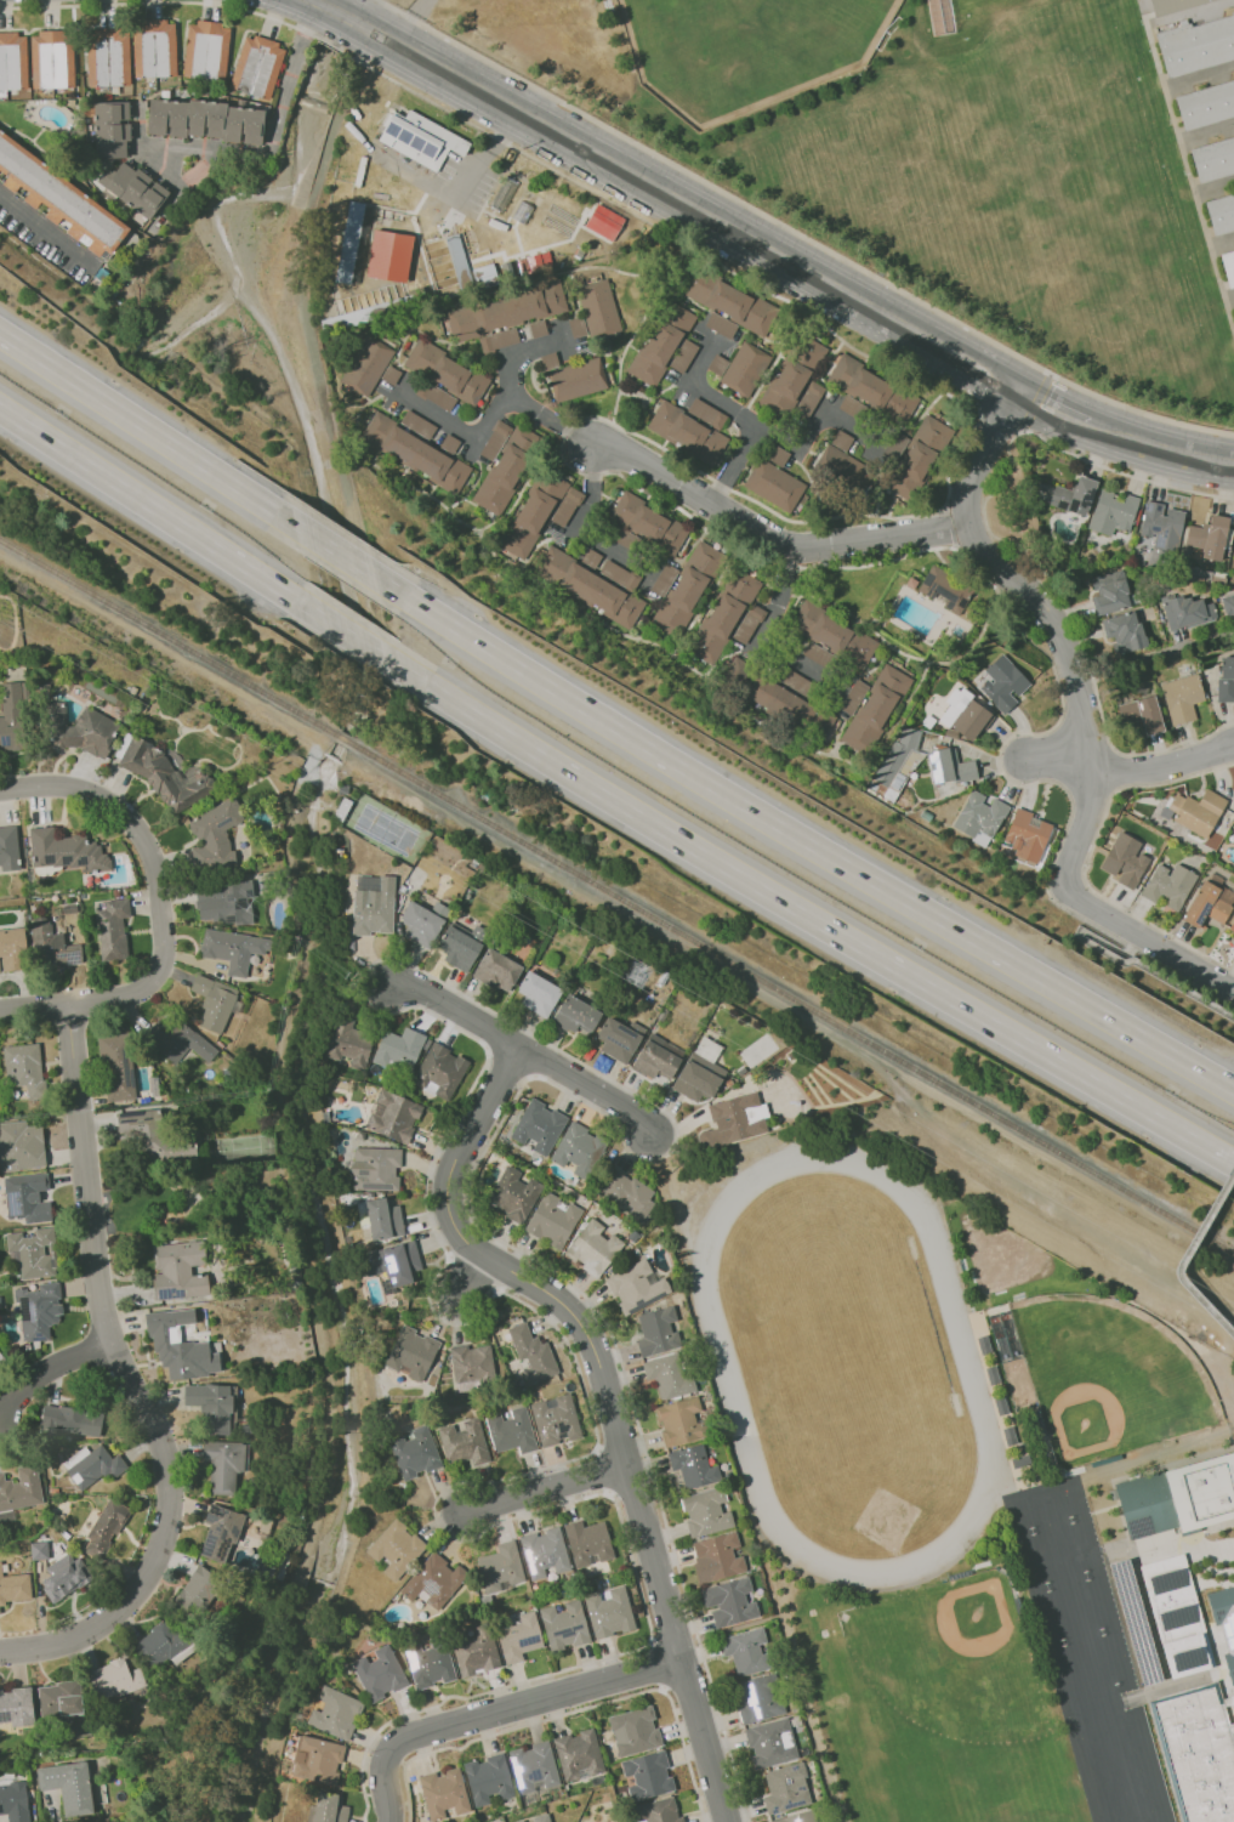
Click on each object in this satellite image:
road: (161, 0)
road: (323, 5)
building: (1175, 6)
road: (416, 8)
road: (346, 17)
road: (1192, 18)
road: (330, 44)
park: (745, 46)
building: (1196, 46)
building: (155, 49)
building: (207, 51)
building: (109, 58)
building: (53, 59)
building: (13, 62)
building: (258, 67)
park: (1014, 74)
road: (1200, 80)
building: (70, 102)
building: (1206, 106)
building: (206, 121)
building: (110, 131)
road: (1207, 136)
building: (420, 138)
road: (269, 140)
building: (351, 144)
road: (150, 154)
building: (508, 155)
building: (1213, 160)
road: (1187, 165)
building: (370, 168)
building: (365, 183)
road: (190, 187)
building: (133, 189)
road: (1215, 192)
building: (501, 195)
building: (59, 198)
building: (386, 200)
building: (568, 203)
road: (686, 208)
building: (1222, 214)
building: (558, 218)
building: (602, 222)
road: (46, 228)
road: (798, 233)
building: (351, 242)
building: (519, 245)
road: (1222, 245)
building: (460, 266)
building: (1229, 267)
building: (510, 271)
building: (101, 274)
building: (487, 277)
building: (728, 300)
road: (1229, 301)
building: (1233, 303)
building: (599, 308)
building: (376, 312)
building: (506, 312)
building: (722, 325)
building: (578, 328)
building: (539, 329)
building: (499, 340)
building: (661, 345)
building: (684, 357)
building: (550, 362)
building: (718, 365)
building: (368, 367)
building: (745, 369)
building: (448, 371)
building: (392, 375)
building: (792, 378)
building: (578, 380)
building: (874, 390)
building: (434, 395)
road: (705, 396)
building: (809, 401)
road: (1035, 403)
road: (1051, 409)
building: (857, 410)
building: (707, 414)
road: (494, 415)
road: (598, 418)
road: (547, 421)
road: (994, 421)
building: (419, 425)
road: (154, 433)
building: (688, 433)
road: (784, 439)
building: (496, 441)
building: (450, 444)
building: (895, 448)
road: (1159, 450)
building: (417, 453)
building: (777, 455)
building: (920, 458)
building: (843, 466)
building: (508, 470)
building: (775, 486)
building: (1074, 496)
building: (568, 506)
building: (533, 513)
building: (1114, 513)
road: (163, 516)
road: (584, 516)
building: (649, 523)
road: (946, 527)
building: (1162, 527)
road: (768, 534)
building: (1209, 539)
building: (631, 541)
road: (1003, 551)
road: (341, 555)
building: (1228, 555)
building: (591, 558)
building: (1075, 563)
building: (621, 575)
building: (1202, 577)
building: (665, 580)
building: (590, 586)
building: (689, 589)
building: (946, 589)
building: (1113, 592)
building: (1228, 605)
building: (1187, 612)
building: (1161, 615)
building: (724, 617)
building: (883, 619)
building: (1162, 620)
building: (750, 623)
building: (1125, 632)
road: (758, 635)
building: (834, 635)
railway: (169, 637)
road: (359, 642)
road: (166, 653)
building: (820, 655)
building: (1189, 666)
building: (1226, 680)
building: (797, 682)
building: (1002, 683)
building: (854, 698)
building: (1182, 698)
building: (778, 699)
building: (876, 710)
building: (1142, 714)
building: (12, 716)
building: (971, 719)
road: (1084, 719)
building: (78, 730)
railway: (342, 738)
road: (1058, 753)
road: (1058, 755)
building: (954, 767)
road: (1164, 767)
road: (1115, 770)
building: (164, 774)
building: (869, 794)
building: (945, 794)
building: (1195, 814)
building: (926, 816)
building: (980, 818)
building: (214, 835)
building: (1028, 836)
building: (1229, 836)
road: (800, 841)
building: (8, 848)
building: (64, 850)
building: (1125, 861)
road: (1084, 862)
building: (1170, 886)
building: (223, 902)
building: (373, 904)
building: (1206, 907)
road: (161, 908)
road: (811, 920)
building: (419, 925)
building: (1232, 927)
building: (110, 929)
building: (51, 946)
building: (232, 948)
building: (459, 948)
building: (11, 949)
building: (1233, 952)
road: (1125, 954)
road: (1133, 959)
building: (496, 970)
power tower: (643, 978)
building: (538, 993)
railway: (790, 997)
building: (212, 1001)
road: (786, 1008)
building: (575, 1015)
building: (619, 1039)
building: (181, 1043)
building: (347, 1043)
building: (398, 1050)
road: (530, 1054)
building: (656, 1057)
building: (116, 1067)
building: (23, 1068)
building: (439, 1071)
building: (699, 1071)
building: (392, 1116)
building: (734, 1120)
building: (538, 1126)
building: (154, 1136)
building: (21, 1146)
building: (579, 1150)
building: (374, 1168)
building: (512, 1193)
building: (627, 1193)
building: (27, 1197)
park: (204, 1201)
building: (382, 1219)
building: (552, 1220)
building: (592, 1248)
building: (33, 1253)
road: (1184, 1256)
building: (178, 1270)
road: (468, 1277)
building: (636, 1287)
building: (38, 1311)
building: (656, 1332)
building: (984, 1344)
building: (180, 1346)
road: (1223, 1352)
building: (410, 1353)
building: (530, 1353)
park: (843, 1358)
building: (471, 1363)
track: (724, 1367)
road: (49, 1372)
building: (669, 1374)
building: (993, 1374)
park: (1108, 1375)
road: (130, 1381)
road: (605, 1398)
building: (1001, 1404)
building: (212, 1406)
building: (555, 1419)
building: (70, 1420)
building: (679, 1421)
building: (511, 1431)
building: (1010, 1435)
building: (464, 1442)
building: (414, 1452)
building: (1020, 1459)
building: (223, 1464)
building: (91, 1465)
building: (693, 1466)
building: (21, 1488)
road: (540, 1488)
building: (1178, 1494)
park: (1065, 1505)
building: (706, 1511)
building: (6, 1515)
park: (1027, 1516)
building: (104, 1528)
building: (220, 1533)
building: (587, 1542)
park: (1076, 1546)
building: (396, 1548)
building: (544, 1554)
building: (716, 1557)
park: (1039, 1557)
building: (500, 1567)
building: (63, 1577)
building: (433, 1580)
building: (15, 1588)
building: (198, 1590)
building: (729, 1602)
park: (1092, 1604)
building: (608, 1612)
building: (1177, 1613)
park: (1053, 1614)
building: (1224, 1619)
building: (1135, 1622)
building: (563, 1624)
building: (518, 1637)
building: (160, 1644)
building: (745, 1651)
building: (476, 1652)
park: (951, 1657)
park: (1108, 1658)
building: (428, 1663)
park: (1069, 1669)
building: (379, 1673)
building: (114, 1680)
building: (757, 1698)
building: (59, 1699)
building: (16, 1707)
road: (495, 1709)
building: (334, 1713)
park: (1125, 1722)
building: (633, 1731)
park: (1130, 1739)
building: (770, 1743)
park: (1093, 1749)
building: (1198, 1750)
building: (578, 1753)
park: (1136, 1759)
building: (315, 1760)
building: (533, 1767)
park: (1099, 1770)
building: (648, 1773)
building: (488, 1778)
park: (1142, 1780)
building: (68, 1786)
building: (785, 1788)
park: (1105, 1789)
building: (443, 1793)
park: (1148, 1800)
building: (13, 1801)
building: (326, 1809)
park: (1111, 1809)
building: (658, 1811)
park: (1154, 1816)
building: (541, 1817)
building: (797, 1817)
park: (1125, 1820)
building: (518, 1821)

